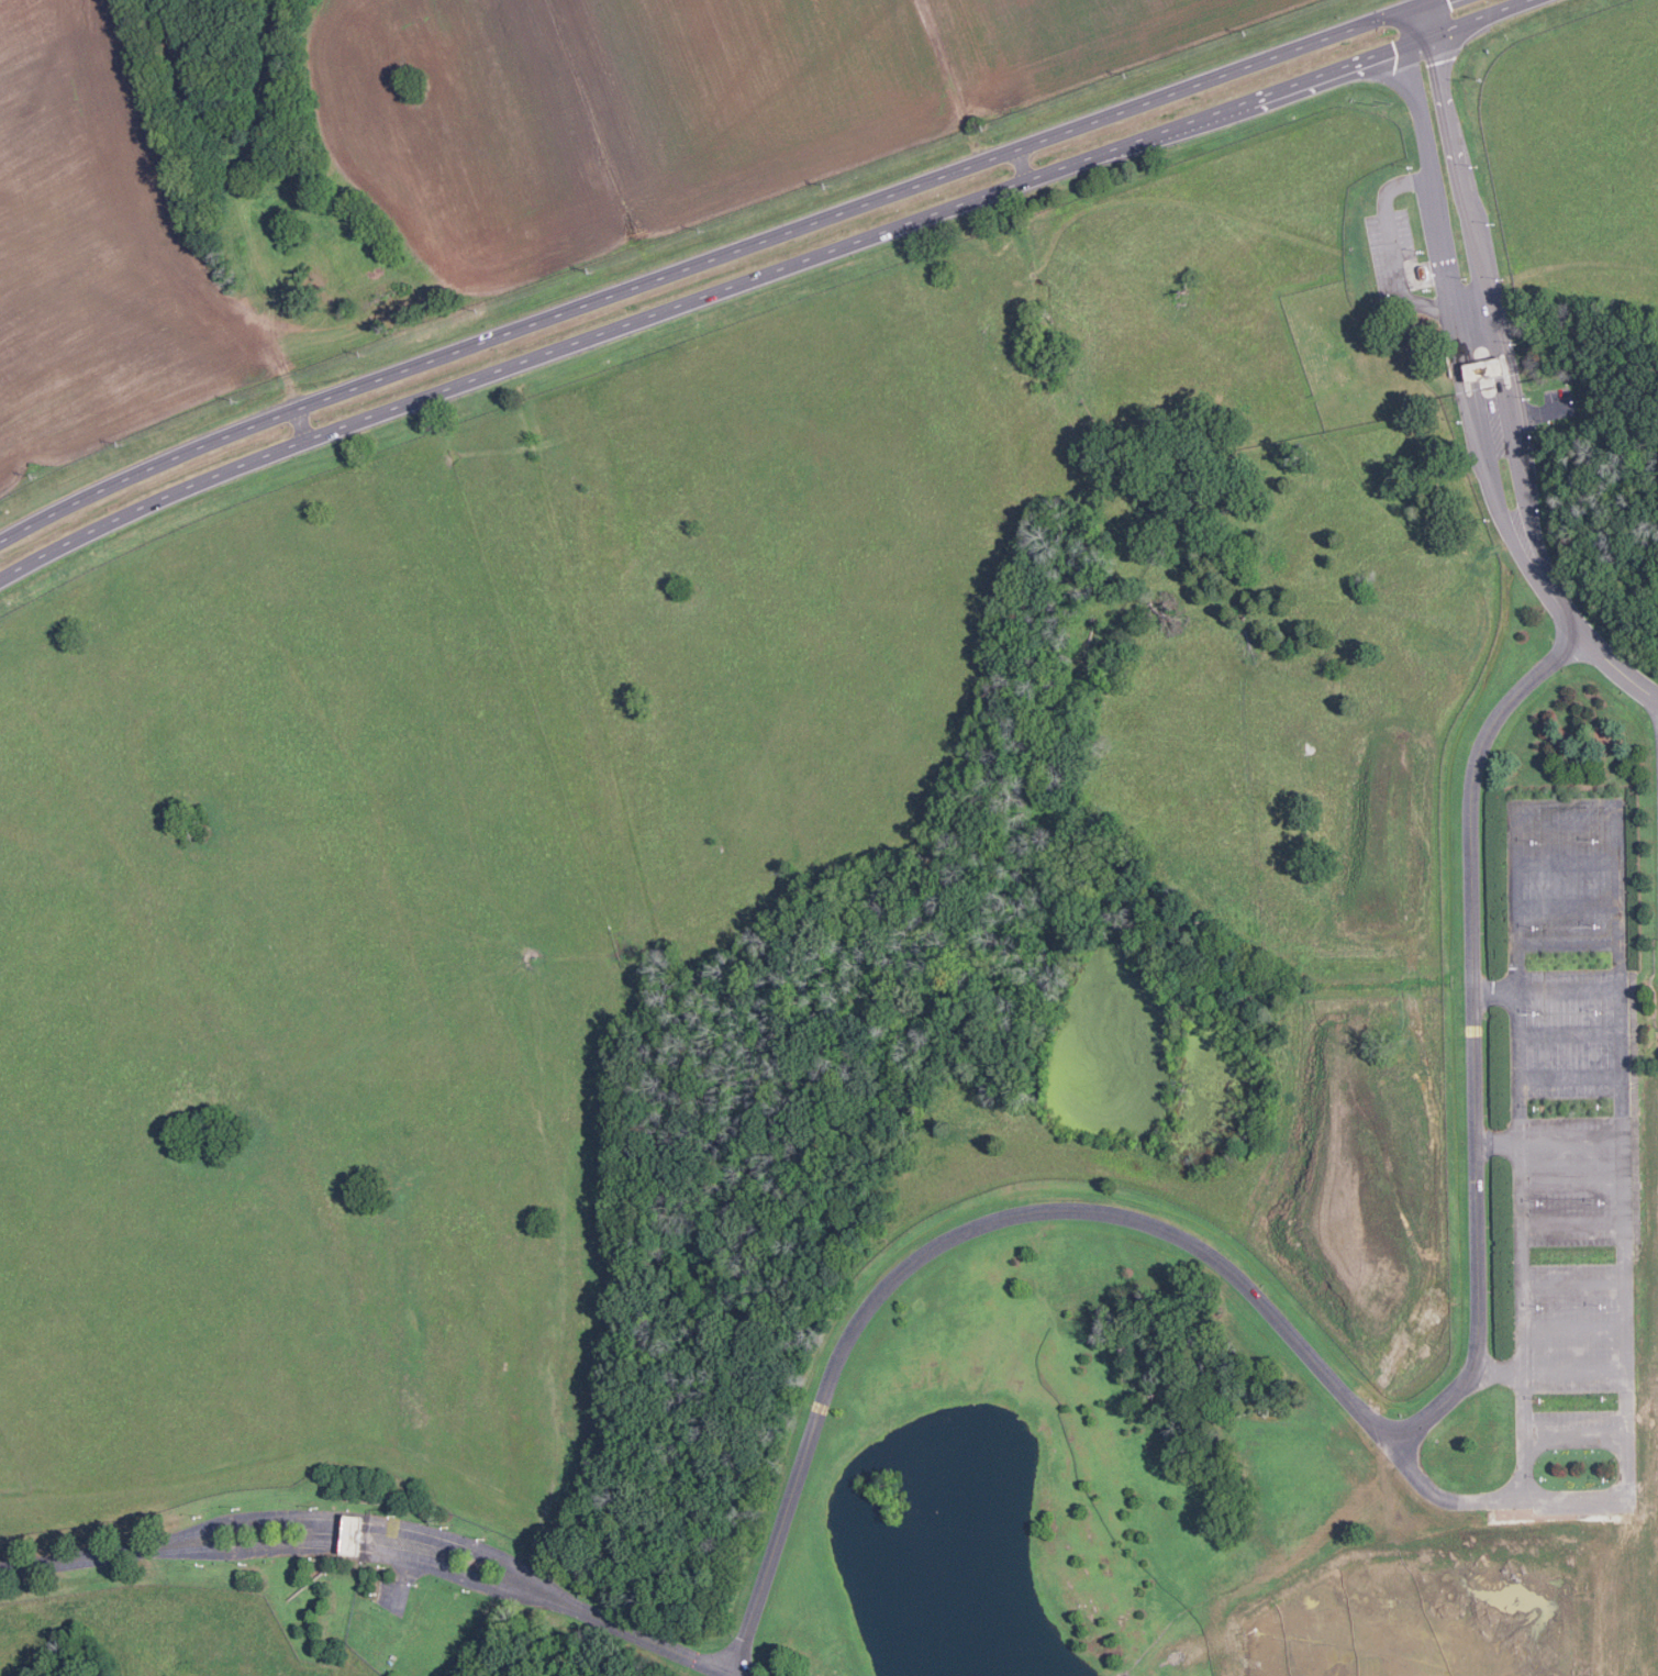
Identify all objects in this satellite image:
road: (1446, 190)
road: (713, 260)
road: (759, 277)
building: (1484, 369)
road: (300, 425)
road: (1533, 557)
road: (1614, 817)
road: (1567, 862)
road: (1568, 903)
road: (1568, 943)
road: (1547, 988)
road: (1570, 1032)
road: (1475, 1037)
road: (1570, 1076)
road: (1548, 1140)
road: (1571, 1180)
road: (1042, 1208)
road: (1572, 1223)
road: (1573, 1284)
road: (1573, 1325)
road: (1547, 1367)
road: (1576, 1438)
road: (254, 1519)
building: (352, 1534)
road: (466, 1545)
road: (254, 1546)
road: (76, 1560)
road: (458, 1572)
road: (645, 1638)

